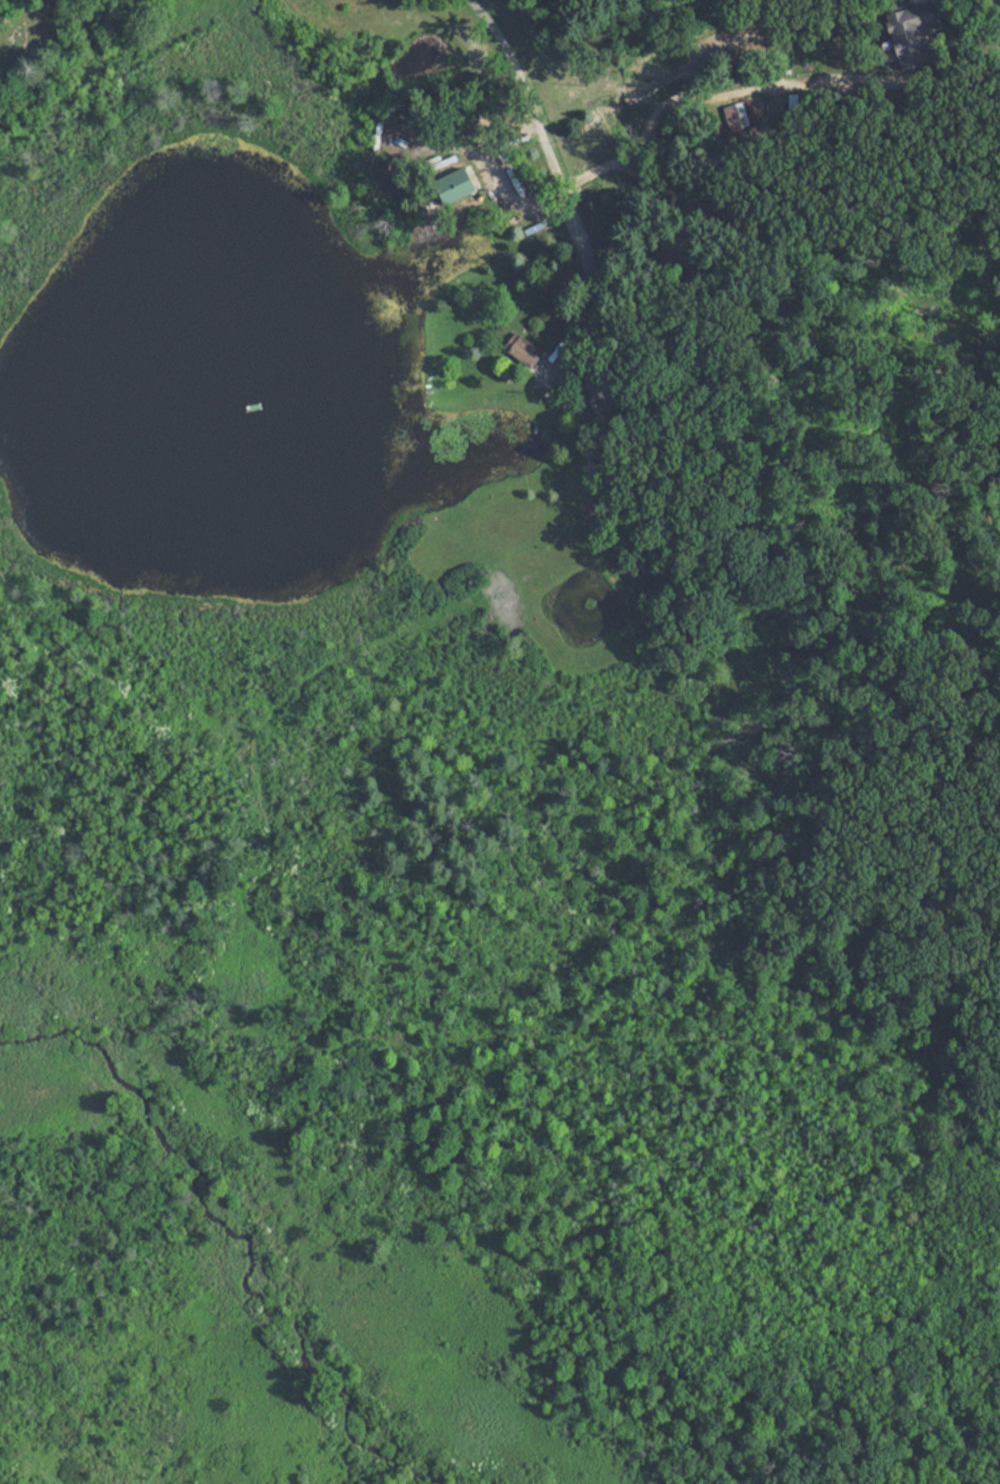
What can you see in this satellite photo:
park: (33, 29)
building: (913, 35)
road: (768, 90)
road: (537, 118)
building: (455, 185)
building: (523, 349)
park: (498, 1256)

